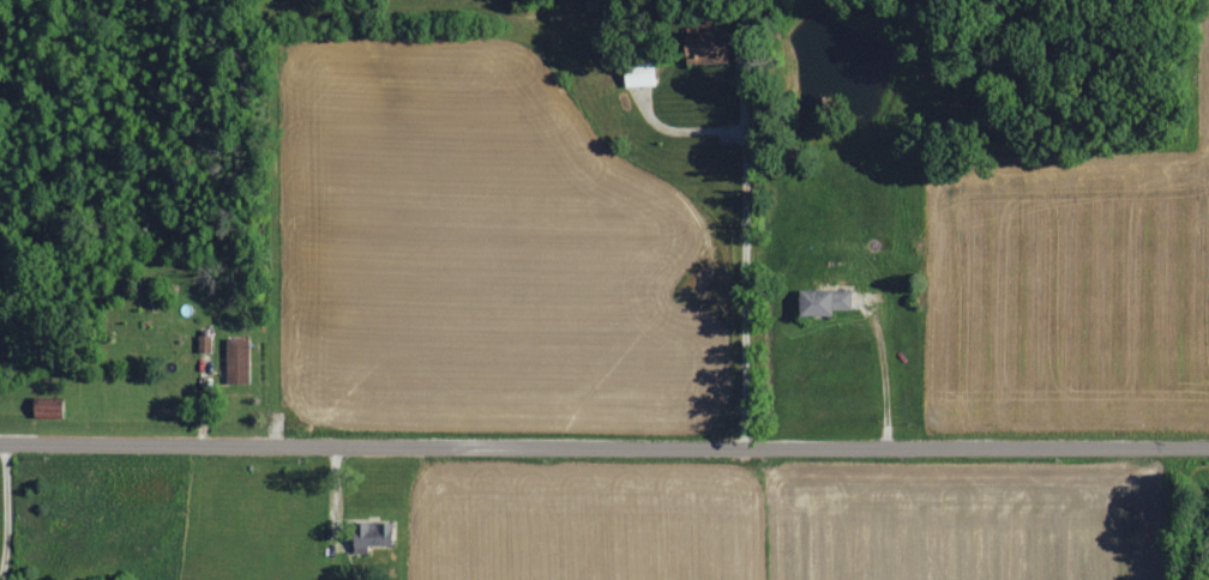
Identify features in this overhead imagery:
building: (709, 50)
building: (643, 75)
building: (828, 303)
building: (207, 344)
building: (240, 362)
building: (52, 409)
road: (604, 436)
building: (377, 534)

